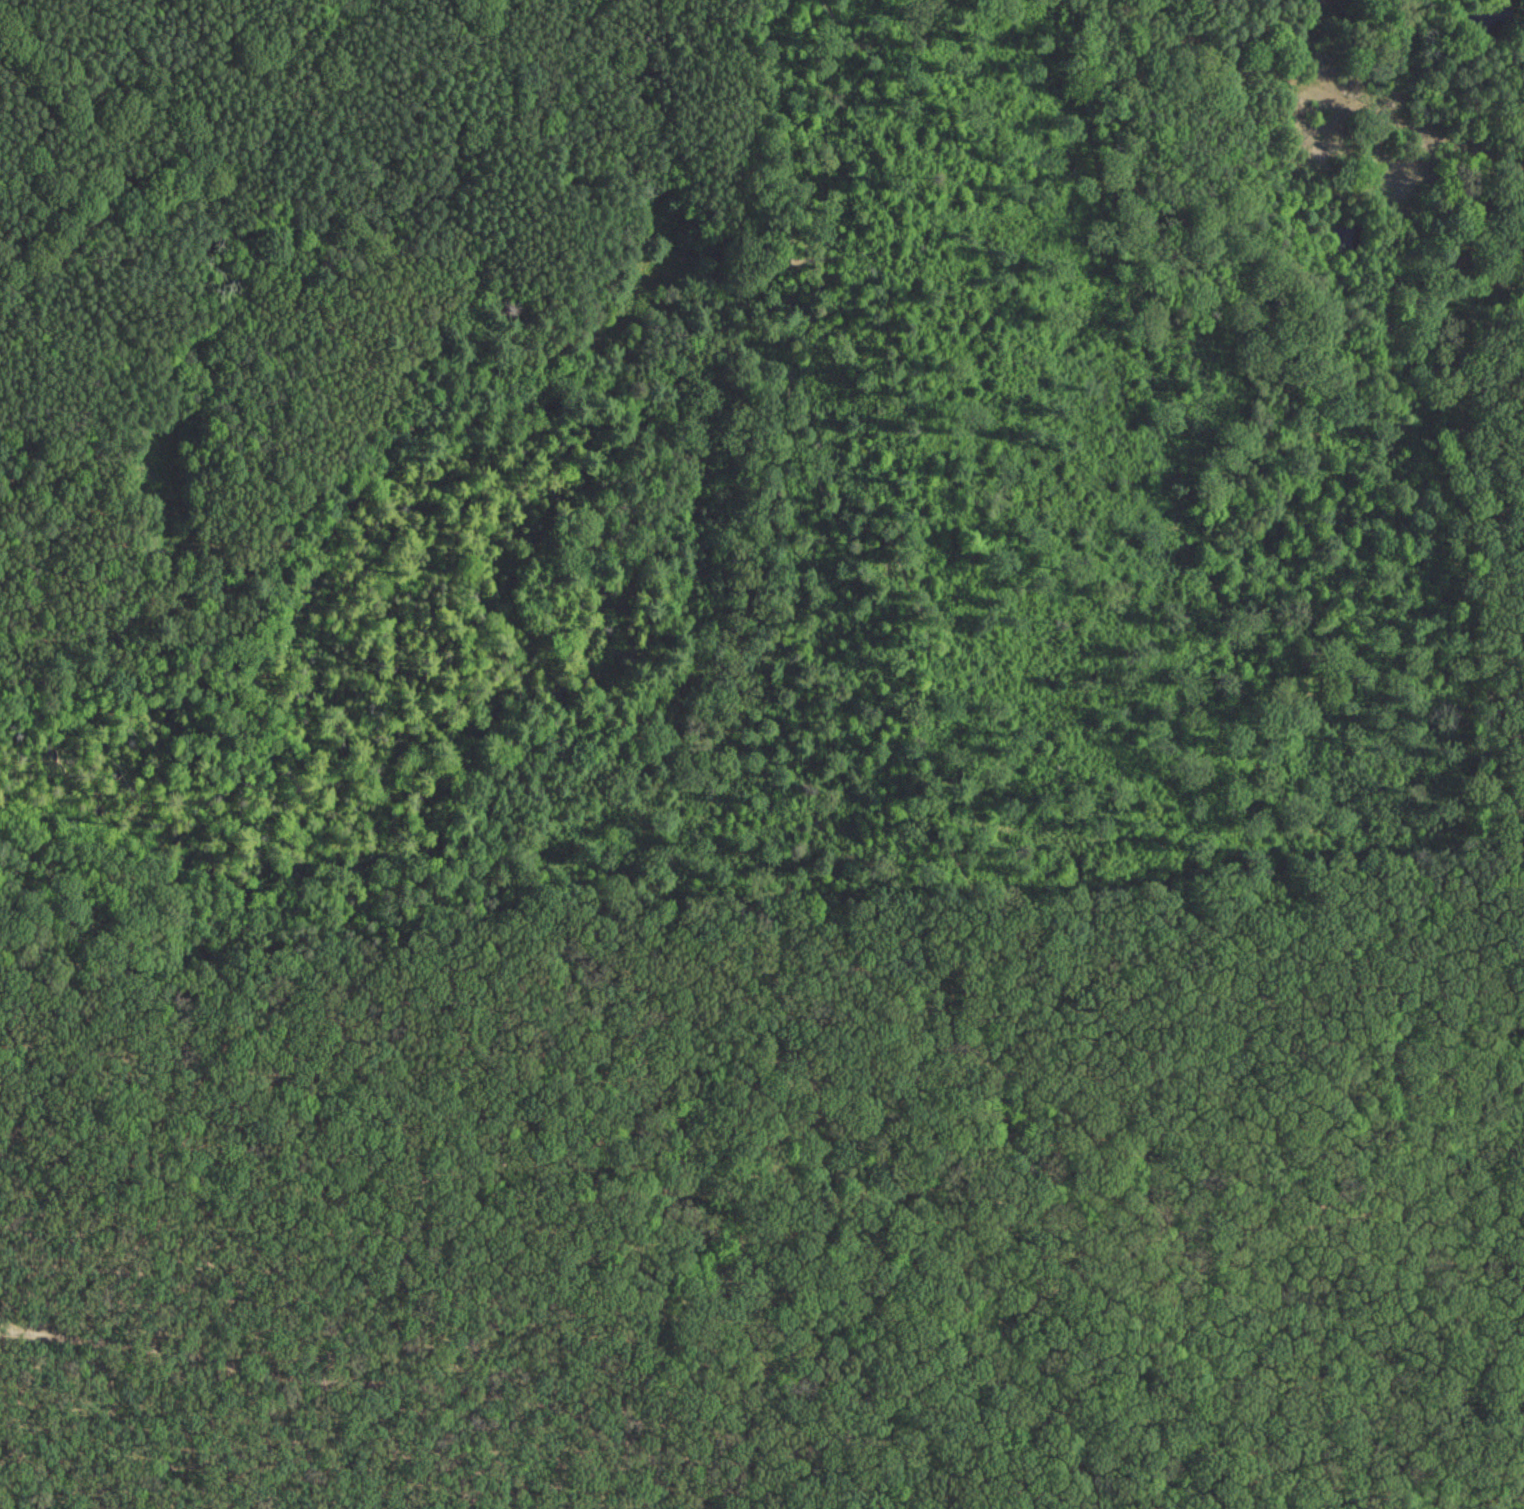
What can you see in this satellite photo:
road: (1313, 87)
road: (989, 924)
road: (289, 1368)

